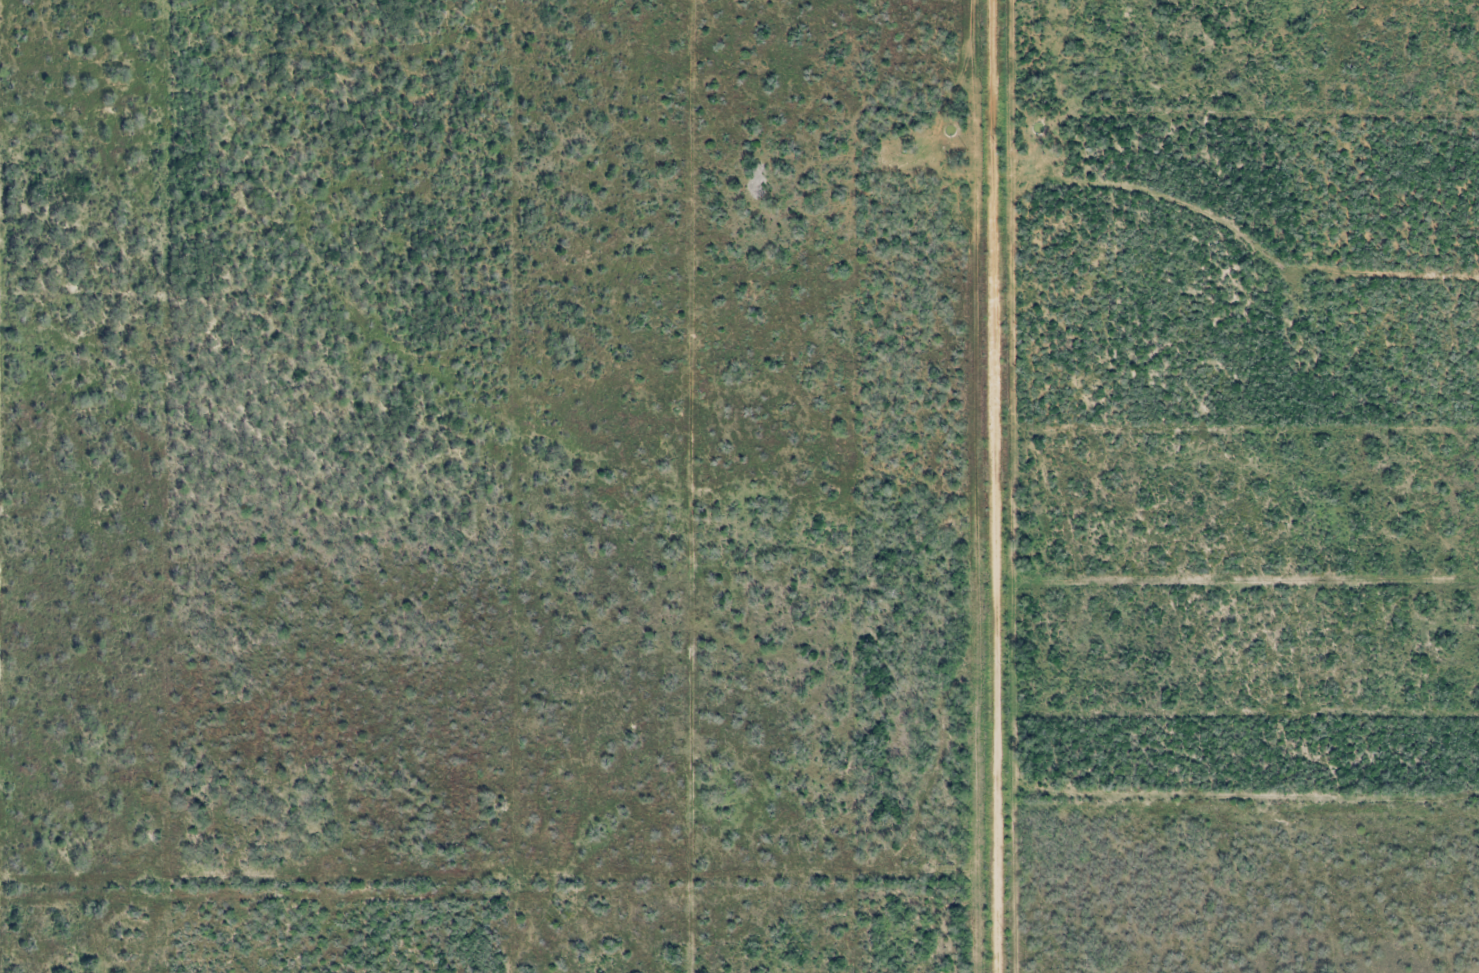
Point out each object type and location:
road: (995, 486)

